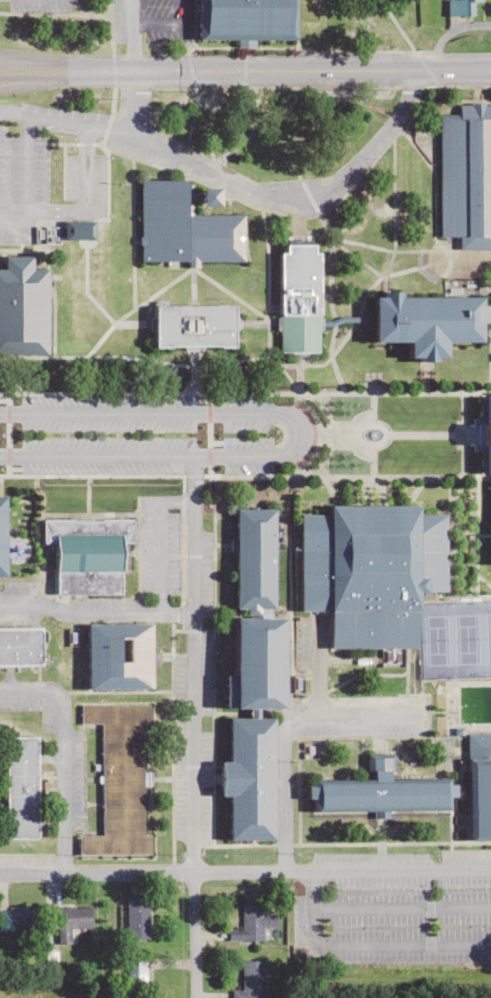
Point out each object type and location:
building: (460, 7)
building: (246, 19)
road: (26, 63)
road: (245, 69)
road: (41, 79)
road: (131, 102)
building: (465, 174)
road: (233, 181)
building: (184, 225)
road: (188, 280)
road: (144, 290)
road: (242, 296)
building: (299, 297)
building: (22, 305)
building: (428, 319)
building: (195, 324)
road: (266, 325)
road: (344, 341)
road: (141, 342)
road: (343, 354)
road: (437, 373)
road: (245, 391)
building: (488, 432)
road: (20, 433)
road: (443, 433)
road: (221, 434)
road: (297, 434)
road: (460, 435)
fountain: (382, 436)
road: (91, 475)
road: (342, 479)
building: (2, 533)
building: (87, 552)
building: (254, 556)
building: (371, 569)
road: (94, 613)
park: (462, 640)
building: (20, 645)
building: (119, 655)
building: (258, 663)
road: (354, 716)
road: (191, 726)
road: (62, 756)
building: (249, 778)
building: (118, 779)
building: (478, 785)
building: (21, 787)
building: (381, 793)
road: (285, 794)
road: (245, 872)
building: (136, 916)
building: (74, 917)
building: (18, 919)
building: (251, 921)
building: (251, 978)

